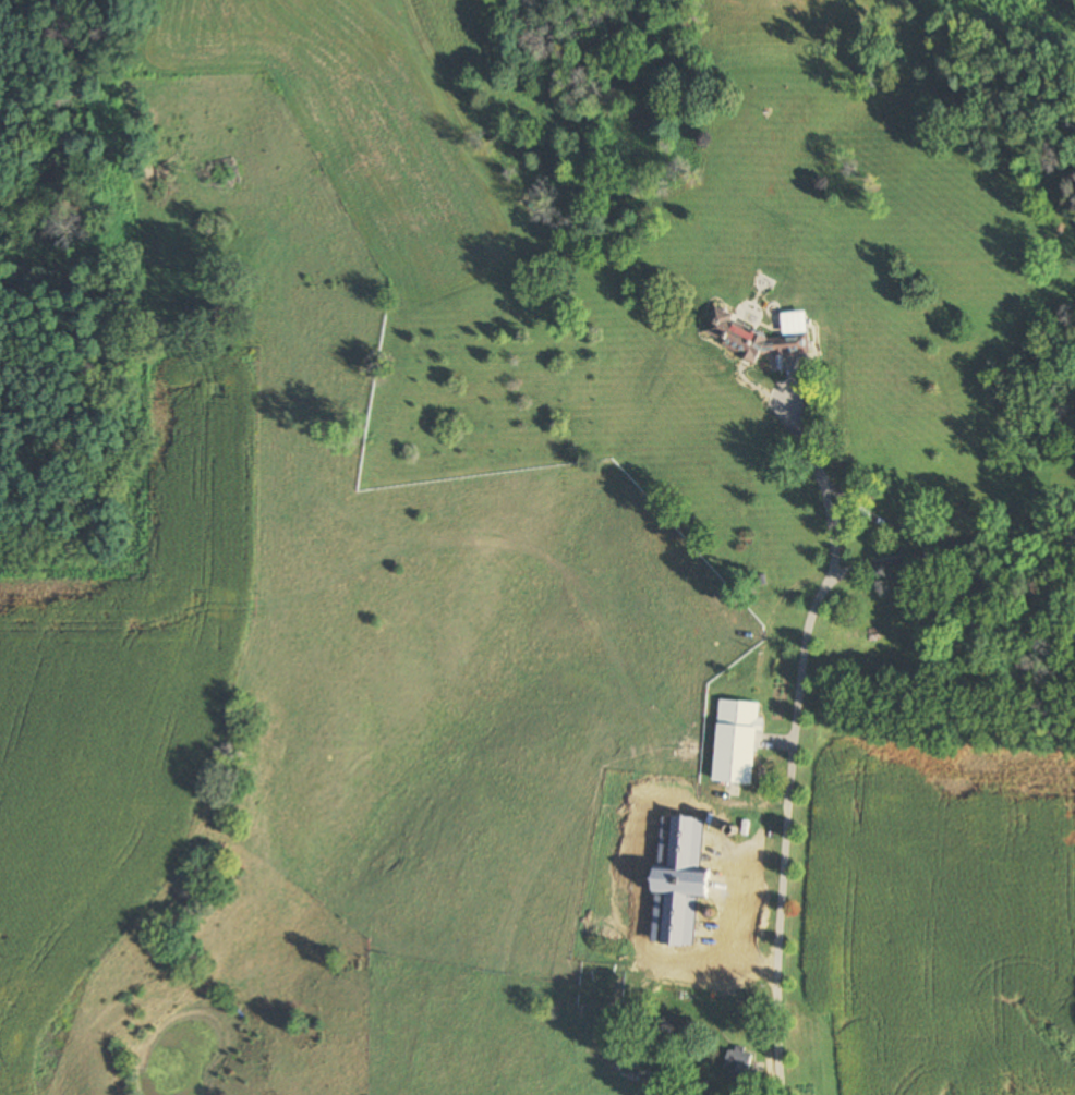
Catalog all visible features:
road: (814, 477)
road: (880, 521)
road: (797, 708)
crop: (119, 711)
building: (737, 742)
building: (693, 890)
crop: (940, 924)
building: (725, 1007)
building: (636, 1058)
building: (739, 1064)

